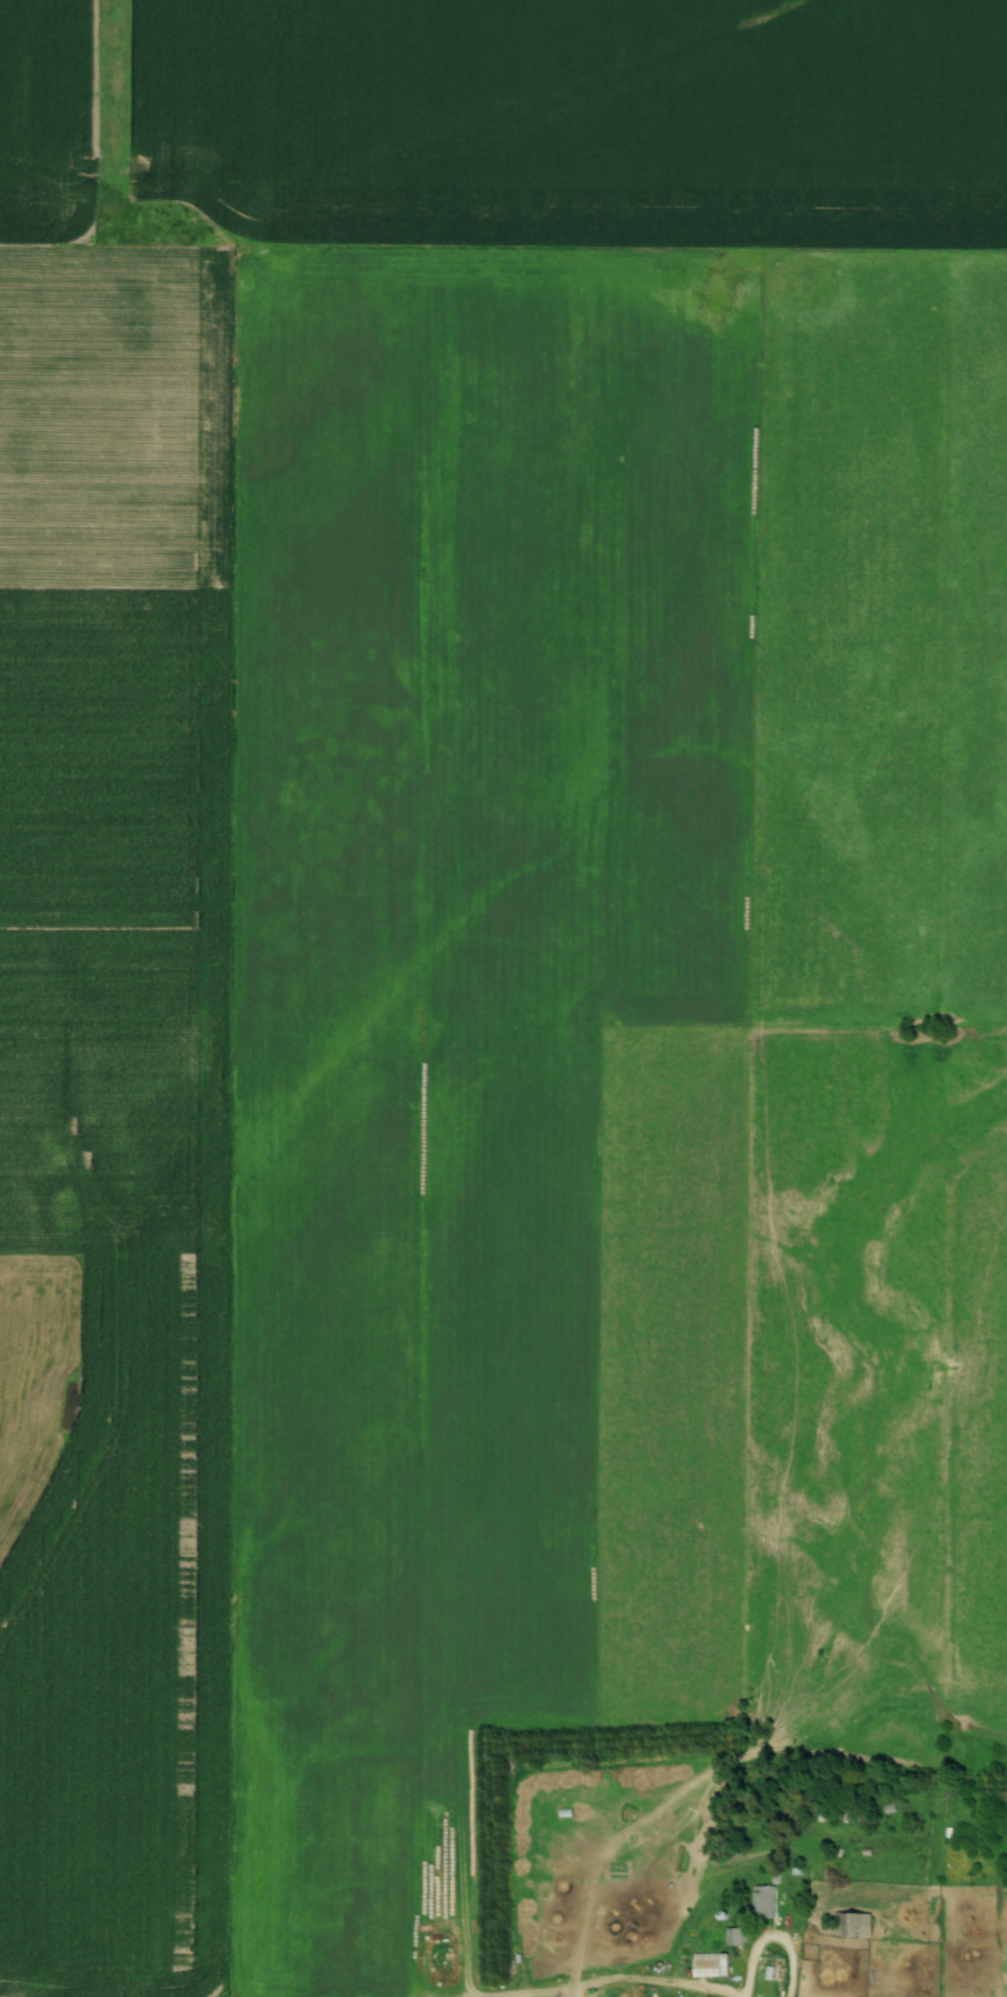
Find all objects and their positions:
building: (820, 1810)
building: (765, 1902)
building: (849, 1926)
building: (735, 1937)
building: (710, 1965)

